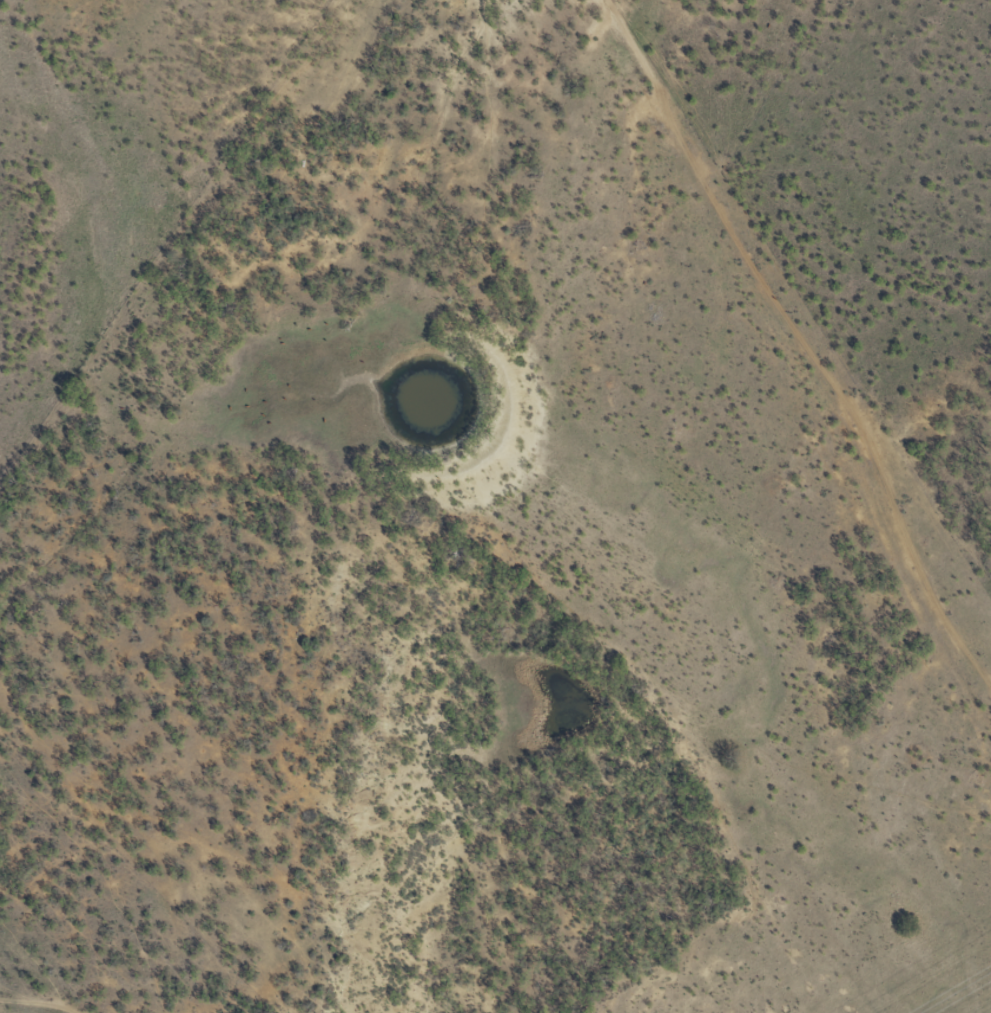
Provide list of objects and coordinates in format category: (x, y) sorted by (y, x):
road: (776, 404)

